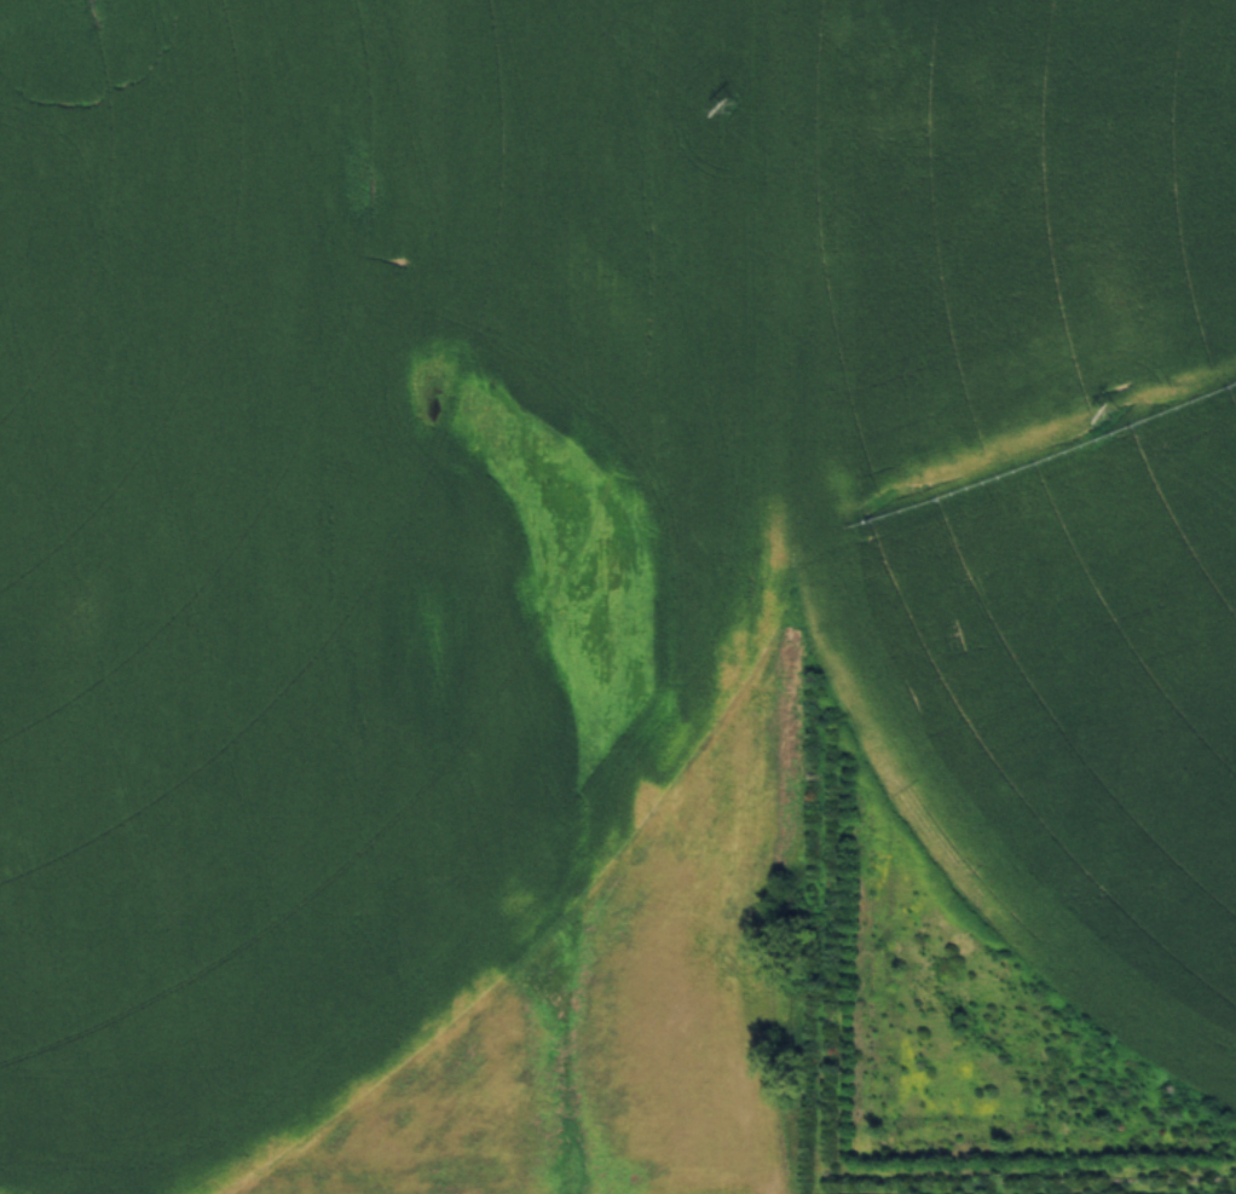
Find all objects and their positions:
power tower: (732, 109)
power tower: (1114, 414)

